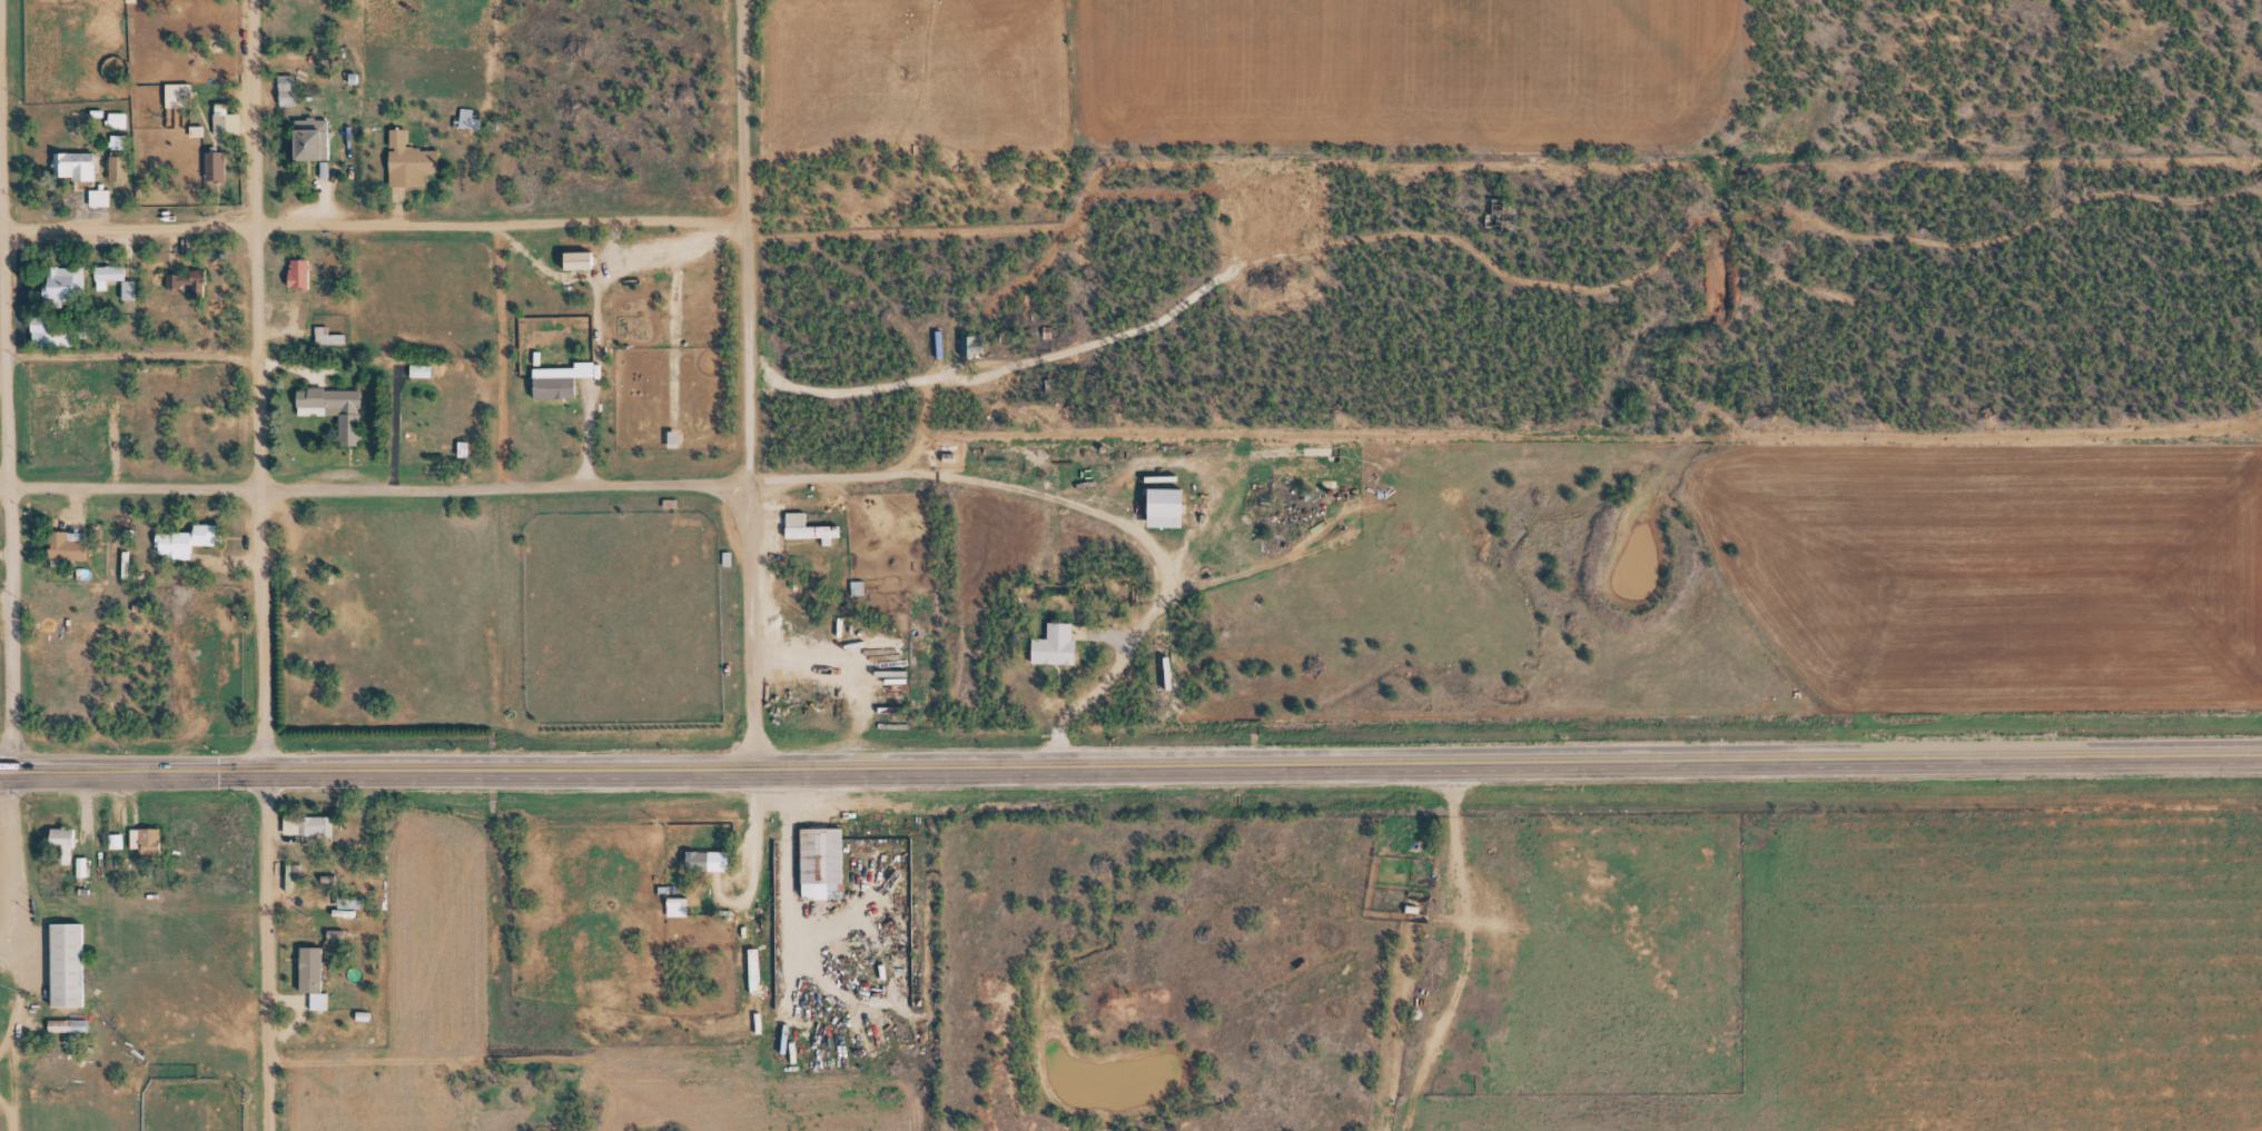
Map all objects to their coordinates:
building: (292, 88)
building: (182, 92)
building: (353, 101)
building: (471, 115)
building: (121, 117)
building: (224, 117)
building: (464, 119)
building: (216, 122)
building: (199, 129)
building: (316, 136)
building: (120, 139)
building: (414, 158)
building: (83, 163)
building: (219, 163)
building: (109, 168)
building: (105, 195)
road: (369, 225)
road: (253, 246)
building: (582, 256)
building: (304, 269)
building: (295, 274)
building: (124, 275)
building: (67, 277)
building: (195, 277)
building: (110, 279)
building: (58, 327)
building: (326, 331)
building: (967, 345)
road: (130, 355)
road: (502, 355)
building: (424, 368)
road: (742, 383)
building: (559, 385)
building: (88, 398)
building: (339, 405)
building: (108, 408)
building: (467, 446)
road: (10, 449)
road: (372, 489)
building: (1170, 504)
building: (803, 528)
building: (213, 530)
building: (178, 539)
building: (71, 544)
road: (259, 632)
building: (1058, 642)
road: (1593, 760)
road: (463, 770)
building: (310, 821)
building: (150, 837)
building: (119, 839)
building: (67, 841)
building: (57, 844)
building: (700, 859)
building: (827, 860)
building: (241, 863)
building: (86, 864)
building: (322, 870)
building: (354, 899)
building: (345, 904)
road: (266, 951)
building: (73, 961)
building: (315, 966)
building: (757, 970)
building: (296, 986)
building: (323, 999)
building: (63, 1024)
park: (189, 1104)

